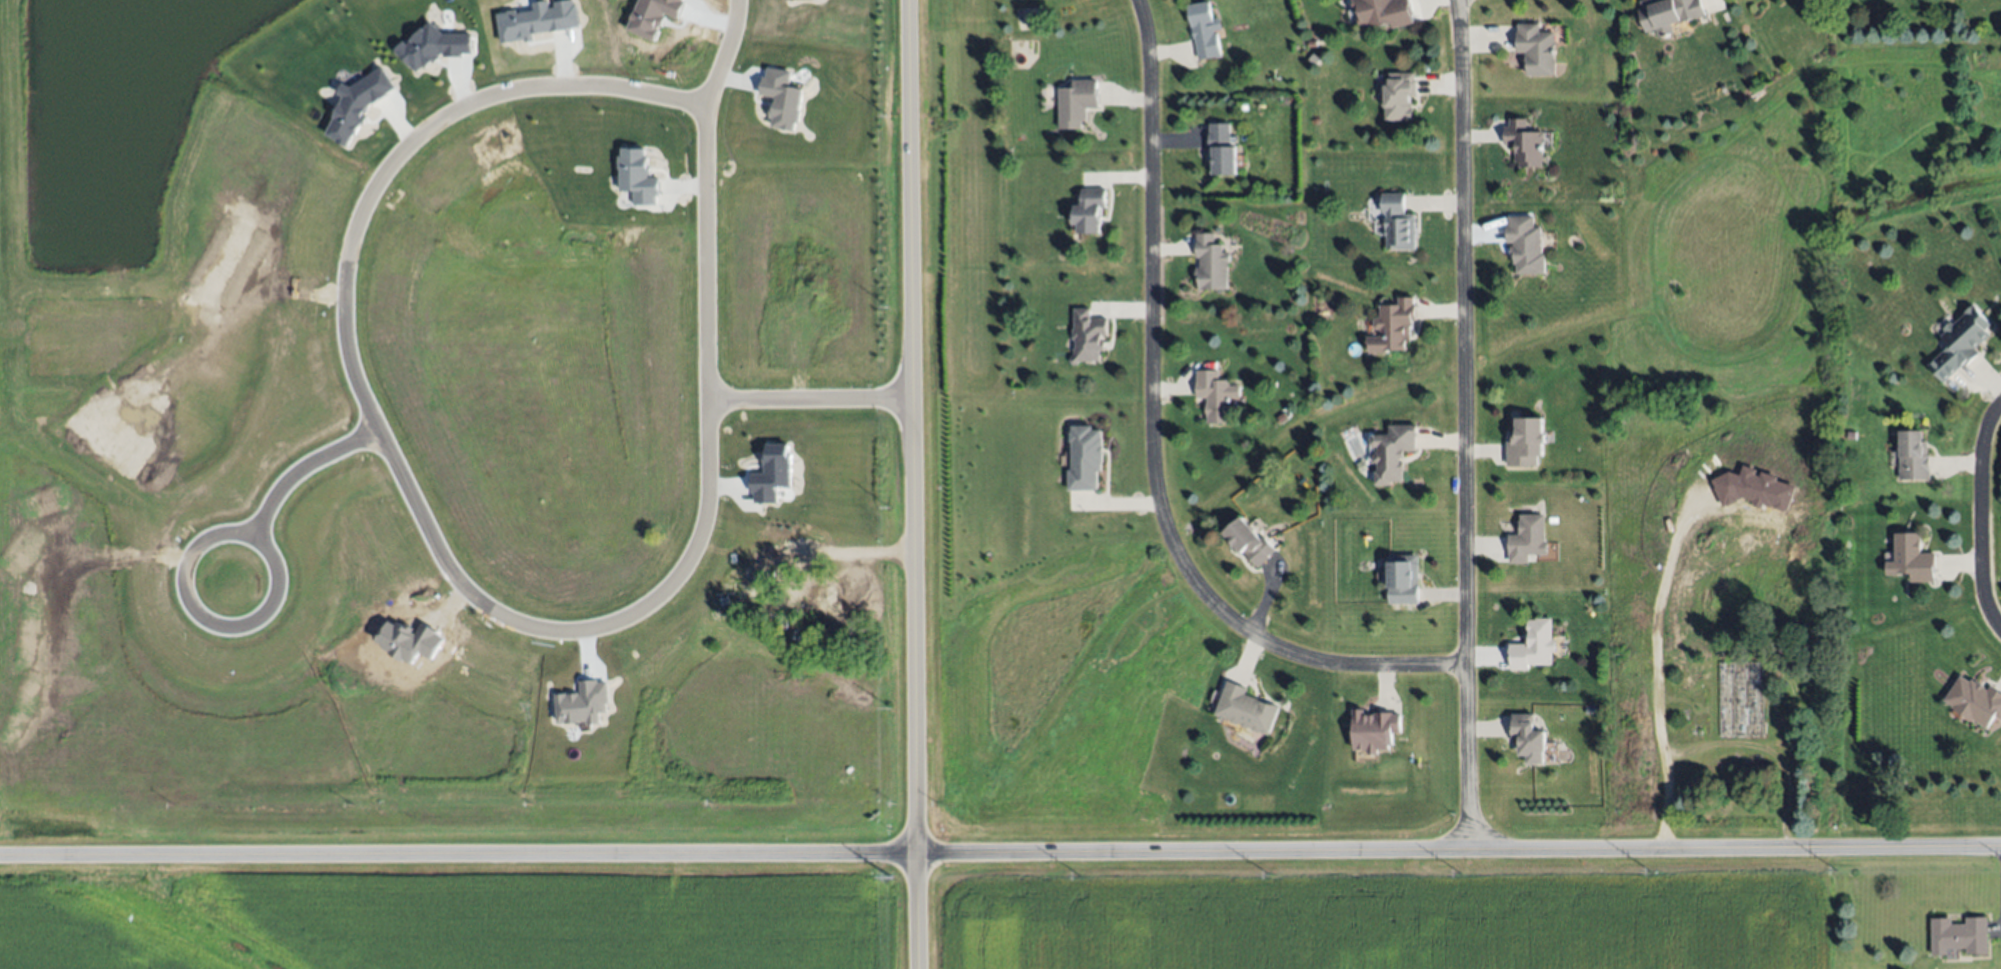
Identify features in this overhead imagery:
building: (805, 0)
building: (1383, 12)
building: (1669, 14)
building: (653, 16)
building: (538, 21)
building: (1204, 30)
building: (433, 47)
building: (1536, 48)
road: (724, 55)
building: (1400, 95)
building: (782, 99)
building: (1077, 102)
building: (357, 106)
park: (1914, 136)
building: (1524, 143)
building: (1221, 149)
building: (637, 177)
building: (1090, 210)
building: (1398, 223)
building: (1525, 244)
building: (1211, 263)
building: (1393, 326)
building: (1089, 335)
building: (1960, 343)
building: (1215, 395)
road: (811, 398)
road: (1468, 426)
building: (1526, 442)
road: (1143, 445)
building: (1395, 451)
building: (1913, 455)
building: (1084, 458)
building: (773, 474)
road: (280, 484)
road: (913, 484)
building: (1754, 490)
road: (1980, 518)
building: (1528, 539)
building: (1249, 541)
road: (436, 554)
building: (1911, 559)
building: (1403, 578)
building: (1534, 645)
road: (1655, 660)
building: (1974, 701)
building: (582, 704)
building: (1246, 708)
building: (1375, 729)
building: (1530, 738)
road: (1000, 853)
building: (1958, 935)

